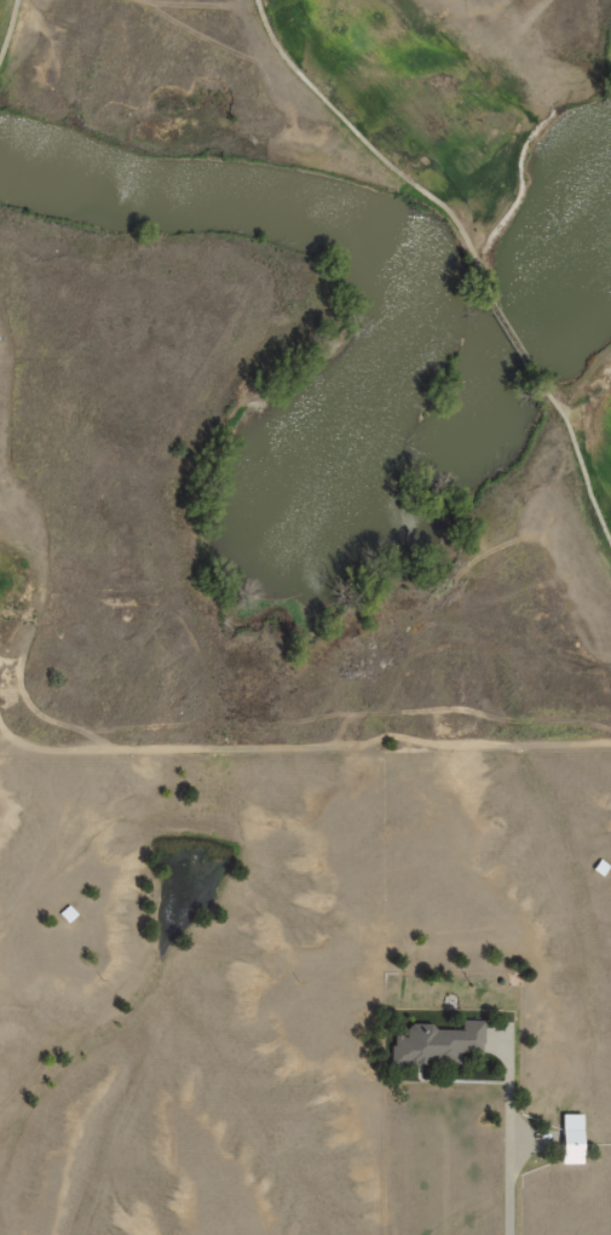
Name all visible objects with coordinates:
road: (7, 29)
road: (374, 153)
road: (511, 344)
park: (304, 374)
road: (577, 460)
building: (437, 1046)
road: (509, 1128)
building: (570, 1138)

